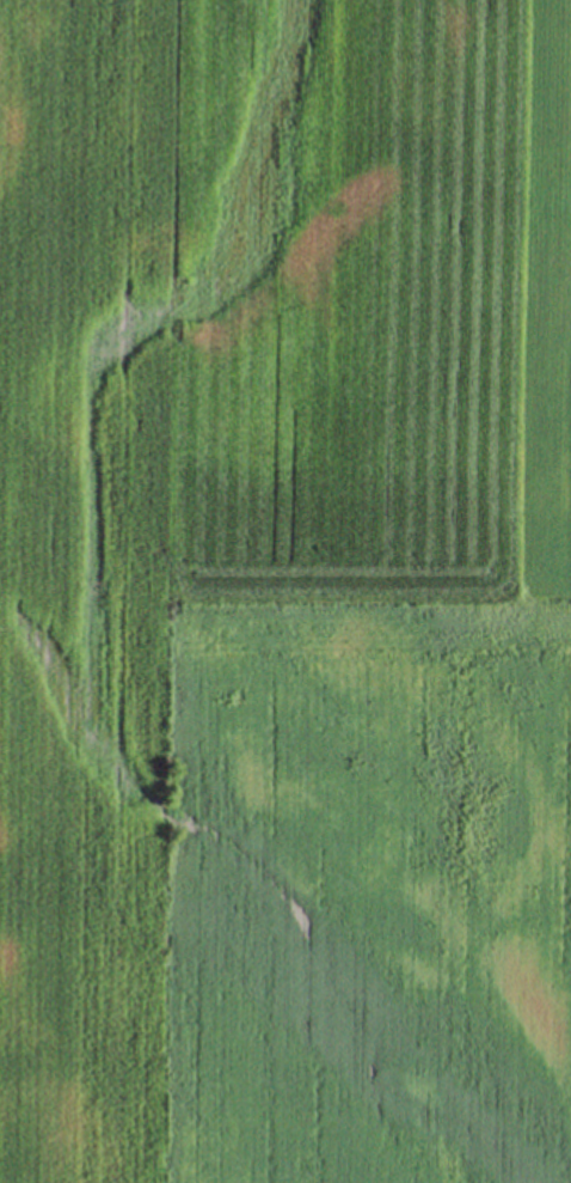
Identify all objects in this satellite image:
crop: (285, 591)

